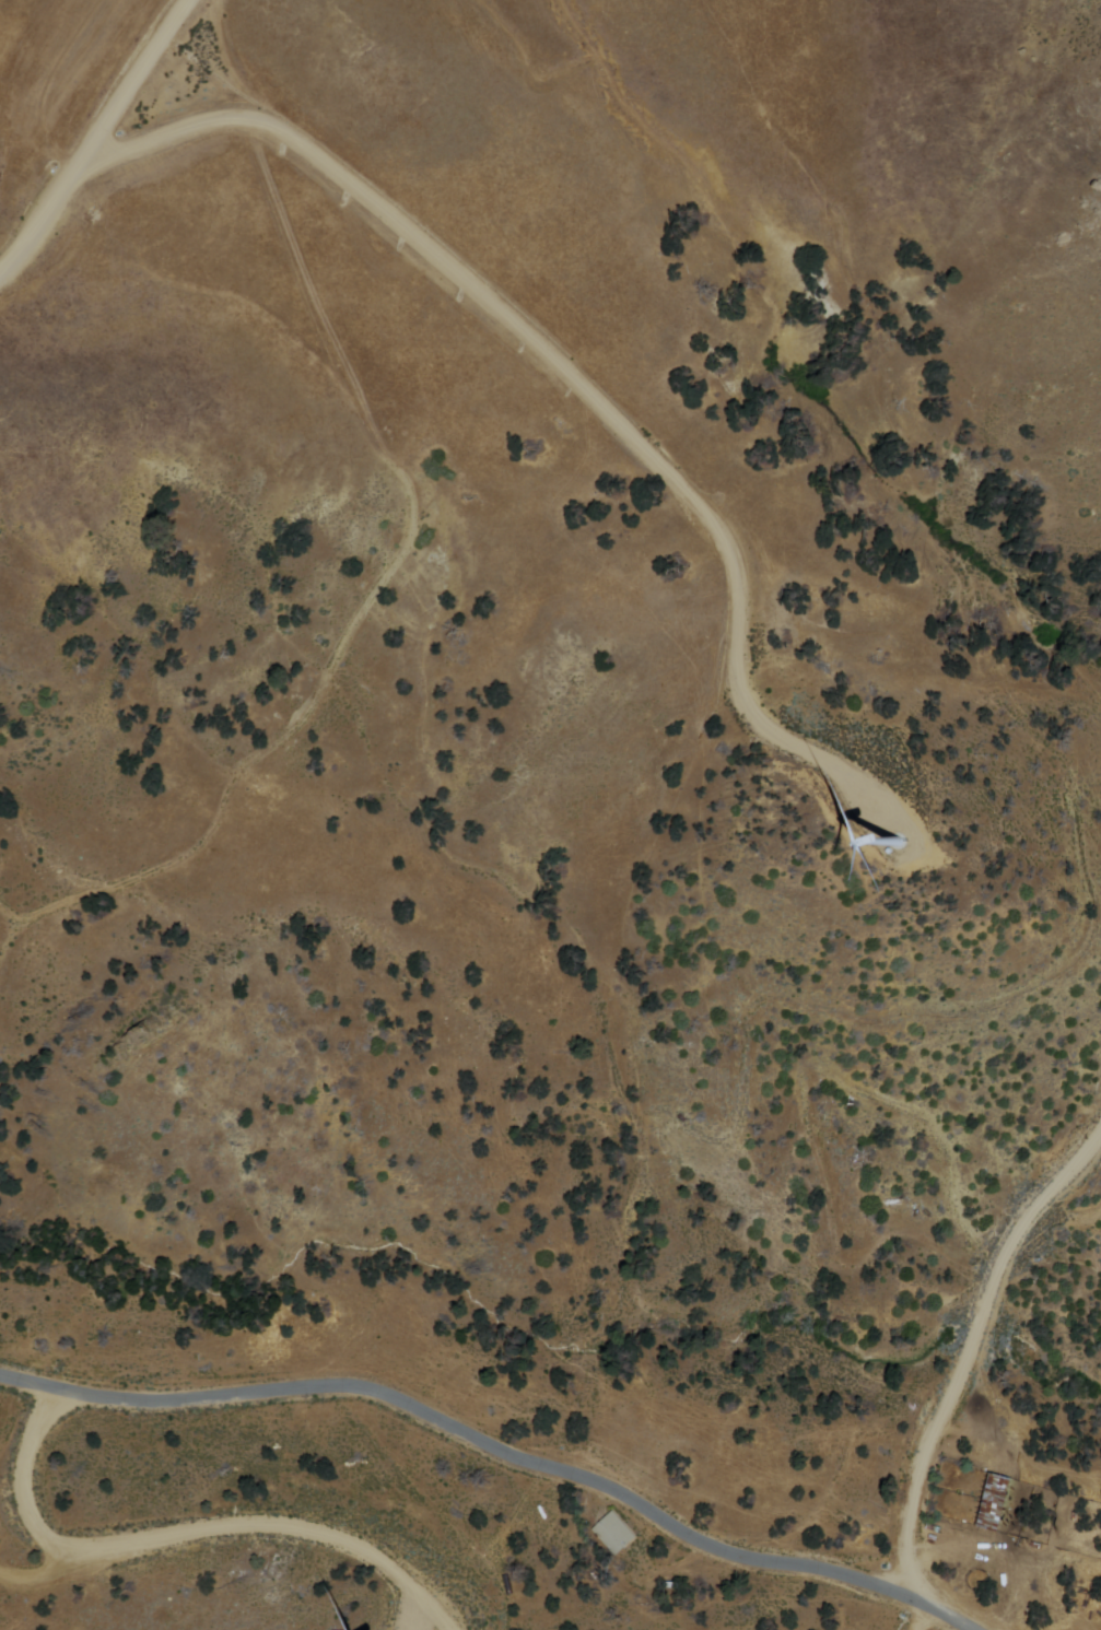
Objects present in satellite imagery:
road: (926, 654)
wind turbine: (901, 836)
building: (996, 1499)
road: (660, 1525)
building: (607, 1532)
road: (867, 1579)

